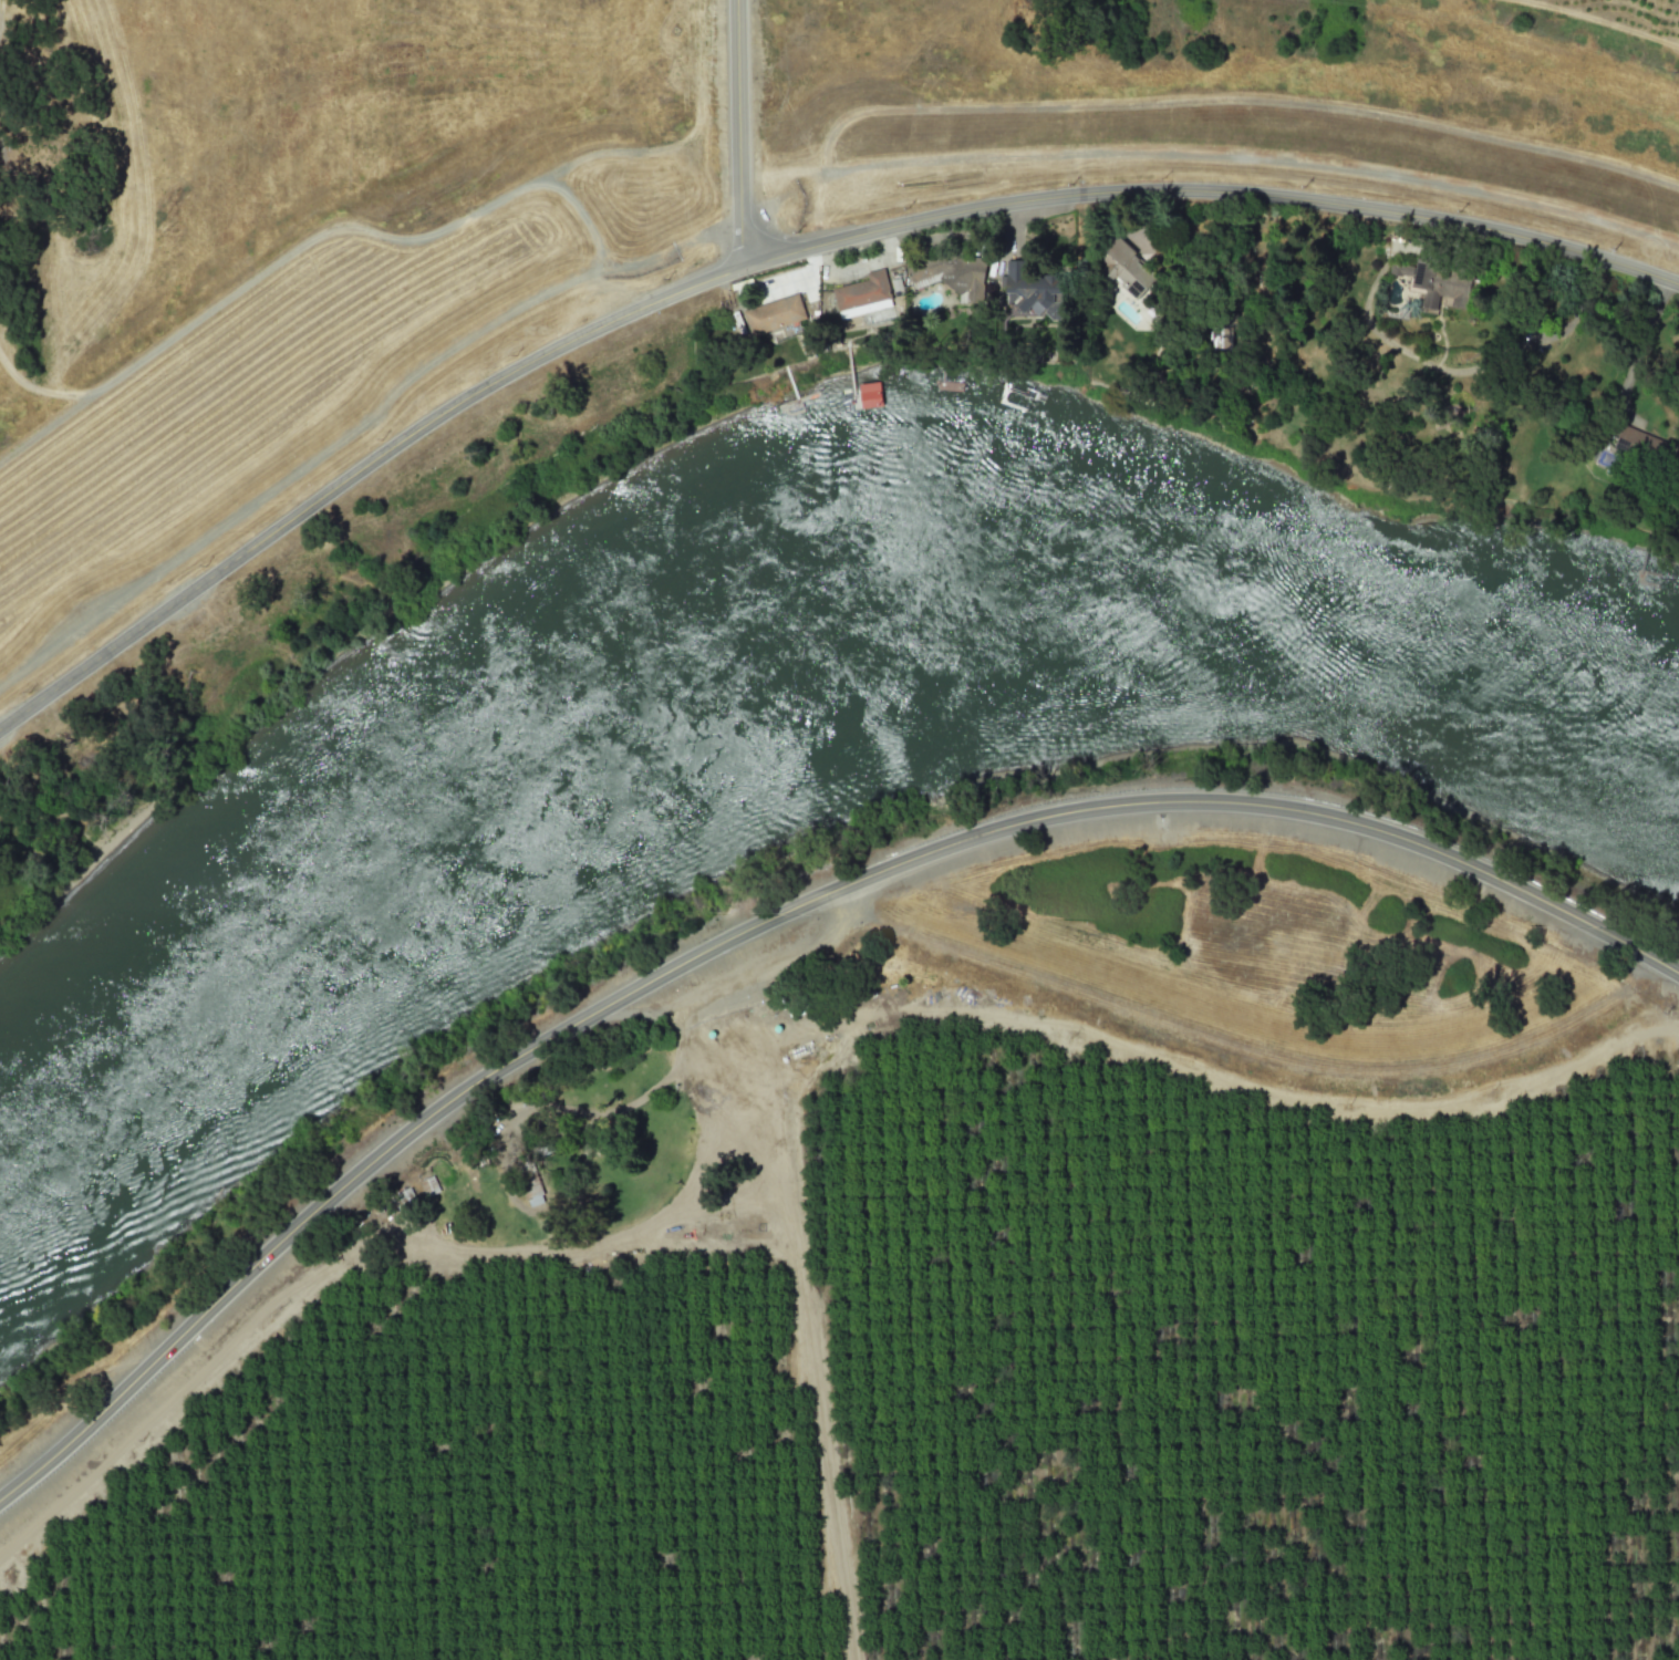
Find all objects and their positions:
road: (736, 135)
road: (779, 256)
building: (1126, 268)
building: (964, 276)
building: (1439, 284)
building: (861, 290)
building: (1033, 291)
building: (773, 314)
building: (1221, 339)
building: (869, 394)
building: (1638, 443)
river: (761, 615)
road: (766, 920)
crop: (1041, 1008)
road: (609, 1245)
road: (786, 1306)
crop: (950, 1396)

